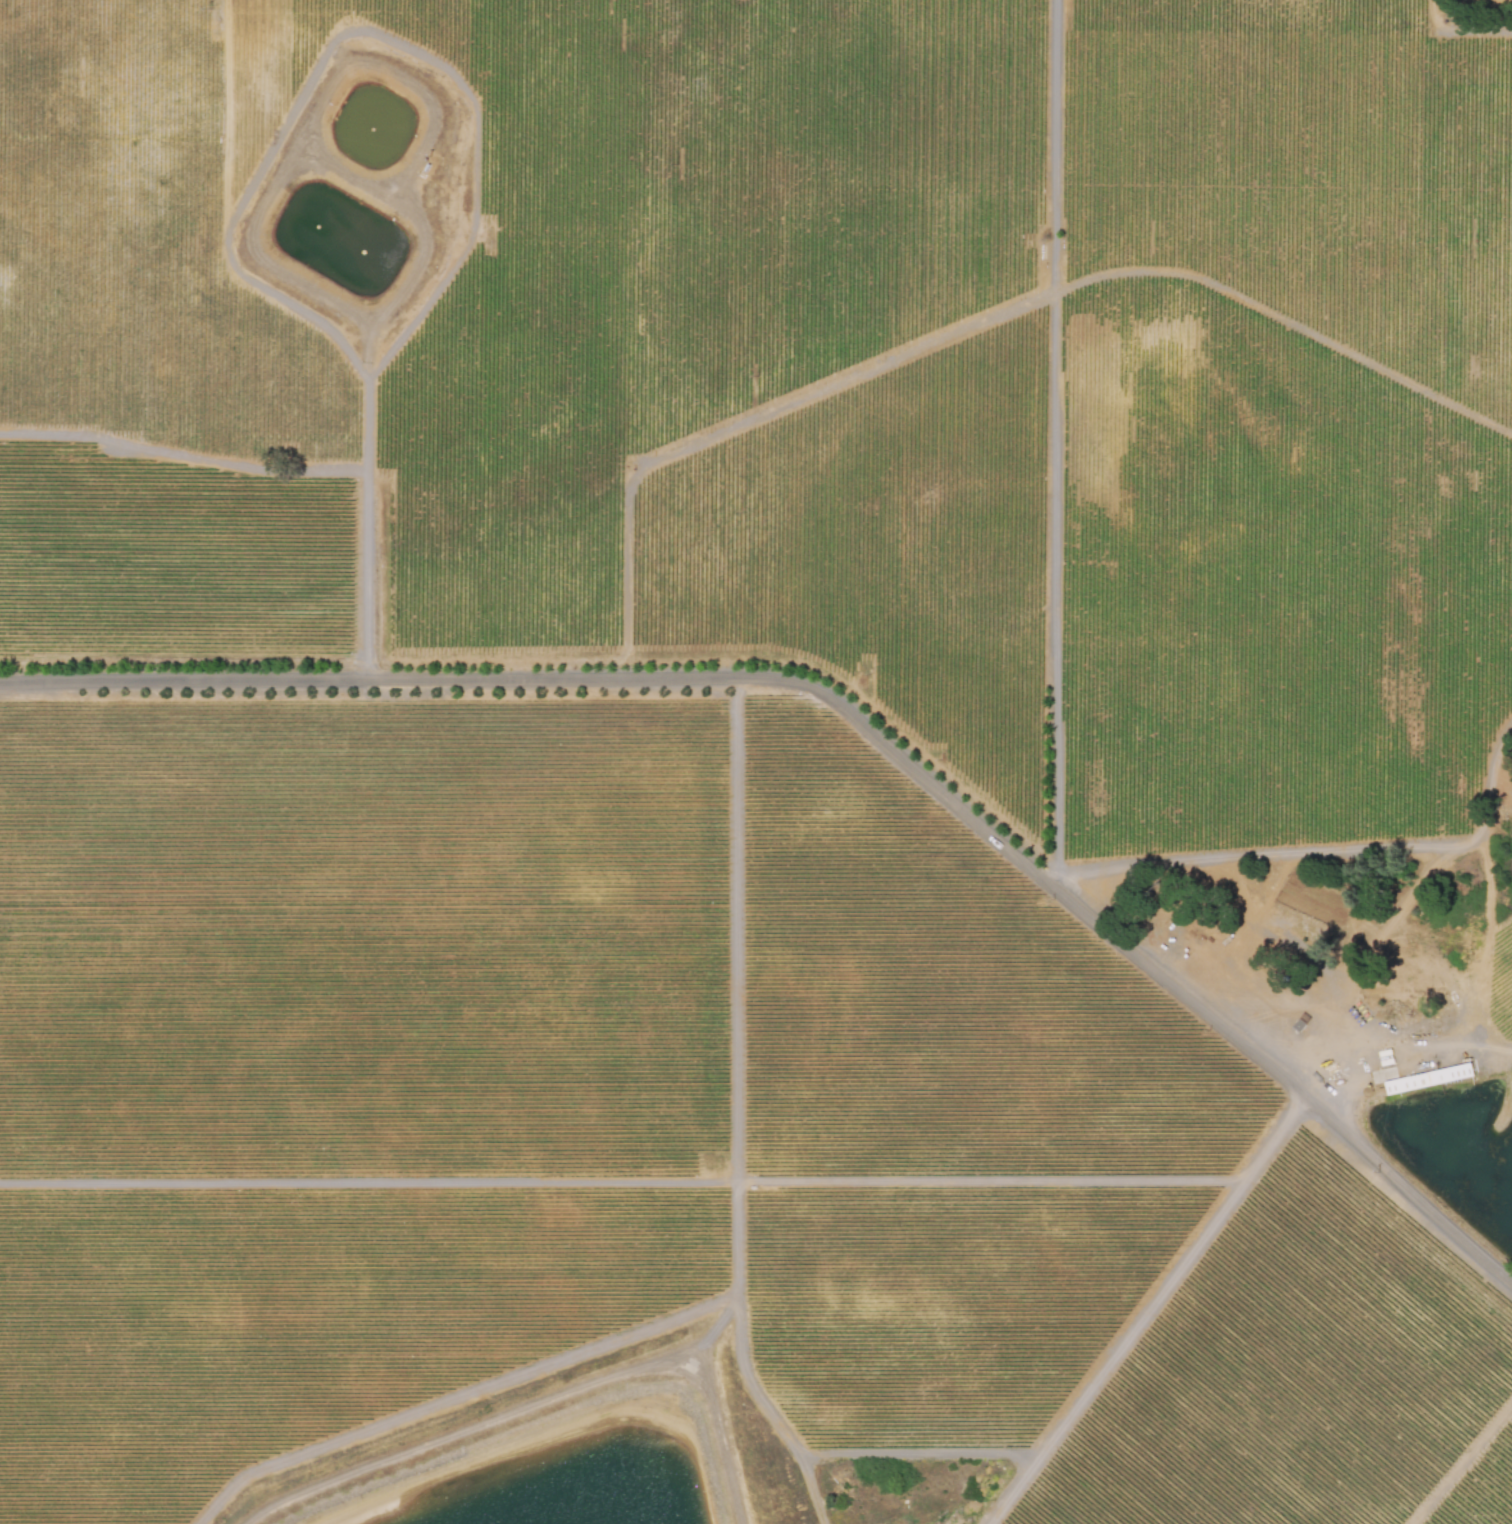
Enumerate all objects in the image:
road: (851, 712)
building: (1403, 1086)
dam: (543, 1424)

